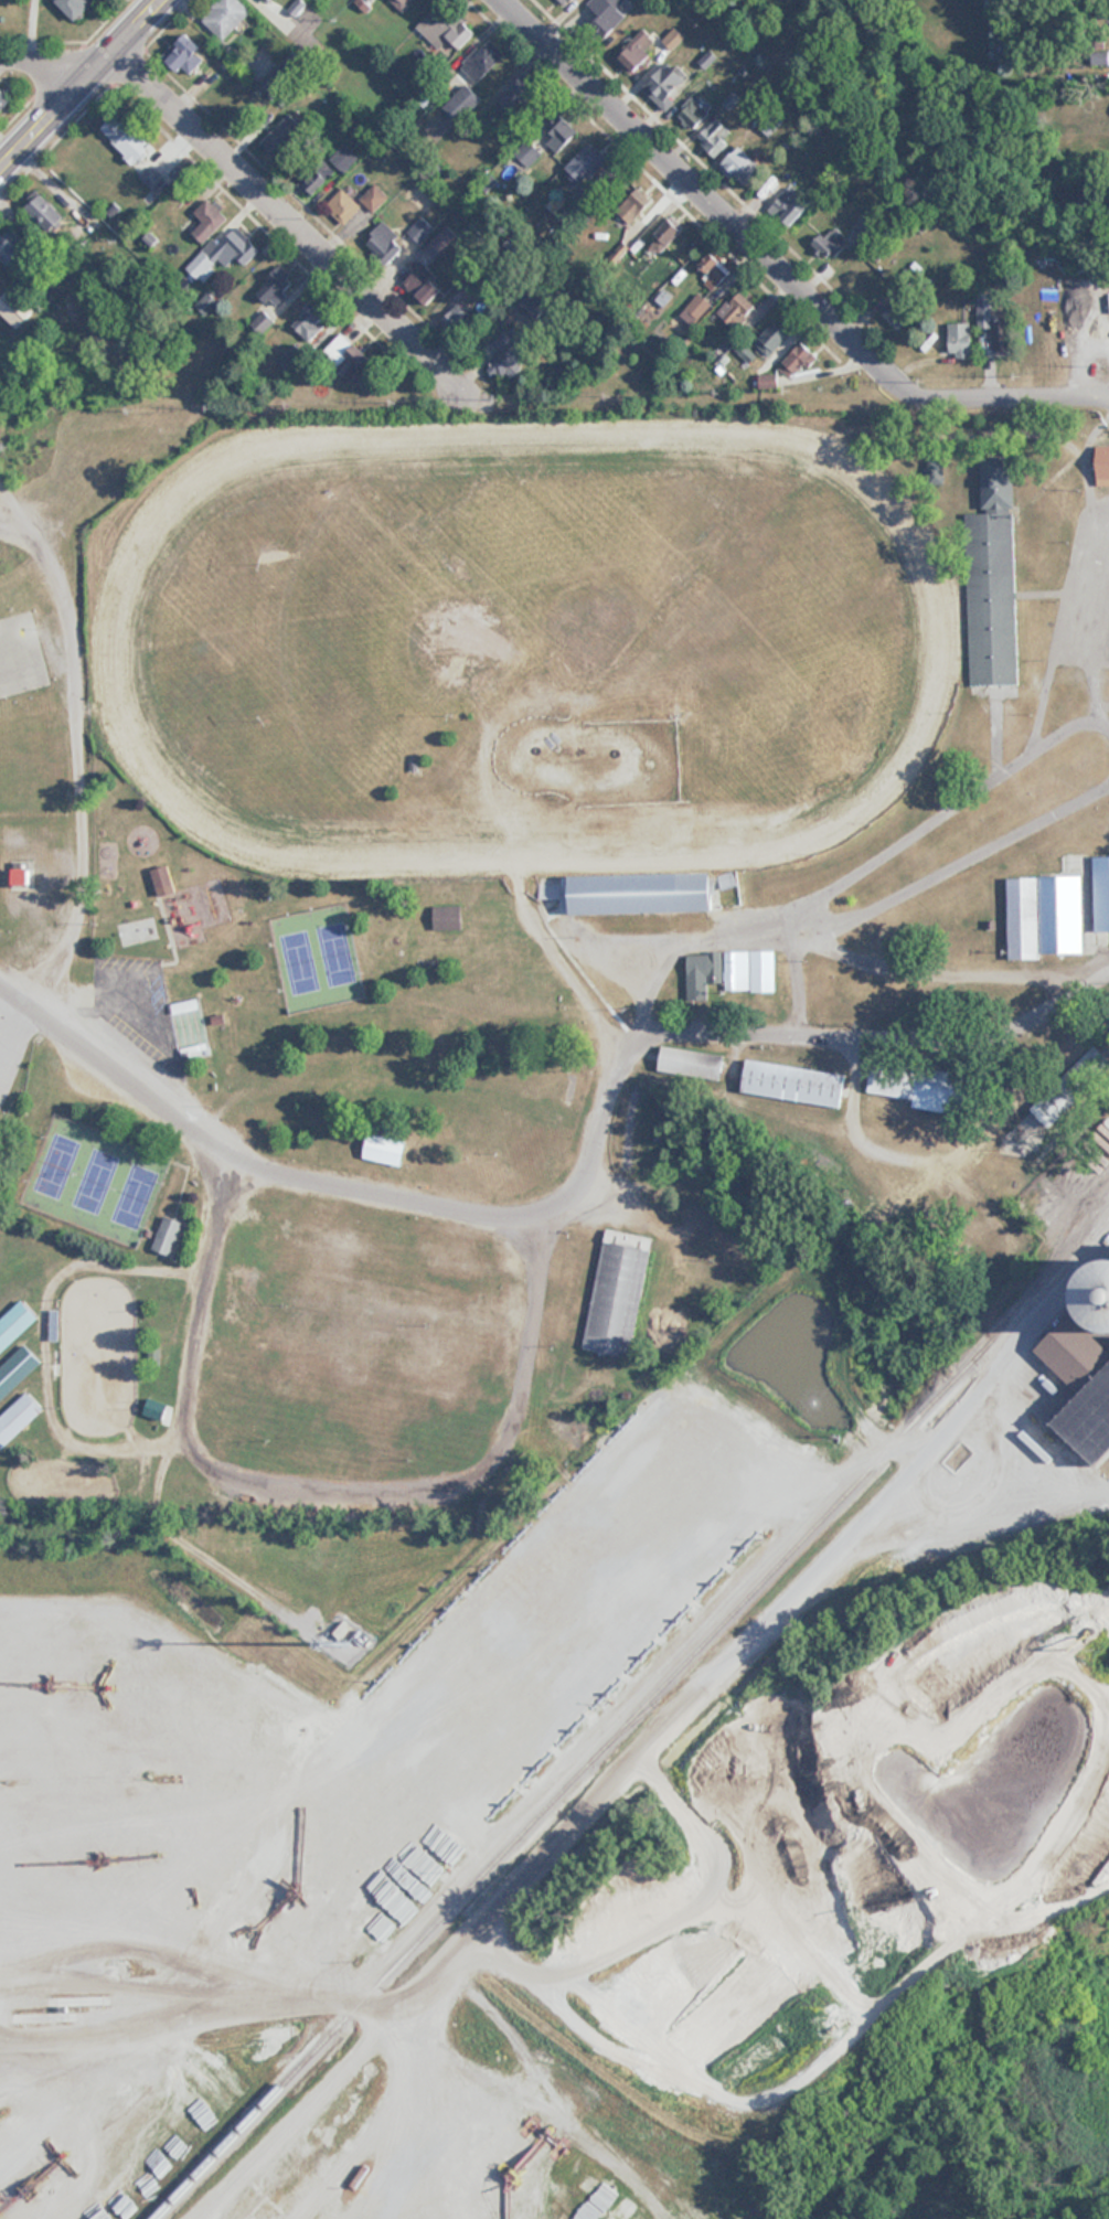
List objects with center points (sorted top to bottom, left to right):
building: (268, 0)
building: (567, 2)
building: (401, 3)
building: (75, 7)
building: (226, 17)
building: (608, 17)
building: (445, 31)
road: (135, 33)
building: (673, 39)
building: (635, 53)
building: (186, 55)
building: (482, 61)
road: (51, 64)
building: (281, 75)
building: (667, 84)
building: (515, 96)
building: (2, 98)
building: (461, 106)
building: (692, 113)
road: (51, 120)
building: (284, 136)
building: (562, 137)
building: (715, 137)
building: (126, 139)
building: (527, 152)
building: (586, 164)
building: (742, 166)
building: (151, 177)
building: (317, 178)
building: (374, 198)
building: (641, 200)
building: (790, 204)
building: (343, 206)
building: (45, 213)
building: (209, 220)
road: (292, 227)
building: (420, 230)
building: (662, 236)
building: (831, 241)
building: (439, 242)
building: (384, 243)
building: (8, 244)
building: (223, 252)
road: (774, 265)
building: (714, 269)
building: (276, 285)
building: (425, 285)
building: (699, 305)
building: (15, 308)
building: (737, 309)
building: (899, 312)
building: (457, 319)
building: (310, 321)
building: (993, 323)
building: (772, 338)
building: (961, 340)
building: (505, 353)
building: (345, 358)
building: (797, 360)
building: (290, 362)
building: (769, 381)
raceway: (296, 439)
park: (578, 547)
building: (992, 582)
park: (374, 639)
park: (21, 642)
building: (1101, 755)
building: (23, 875)
building: (164, 881)
building: (643, 892)
building: (1100, 892)
building: (552, 906)
building: (1044, 915)
building: (448, 916)
park: (318, 942)
road: (558, 959)
building: (764, 960)
building: (737, 971)
building: (702, 975)
building: (184, 1005)
park: (191, 1016)
building: (1092, 1060)
building: (691, 1062)
building: (795, 1082)
building: (923, 1085)
building: (1054, 1105)
park: (426, 1113)
building: (386, 1149)
park: (98, 1166)
road: (575, 1184)
road: (221, 1212)
building: (984, 1221)
building: (168, 1236)
road: (92, 1260)
building: (1098, 1290)
building: (618, 1292)
building: (14, 1323)
park: (97, 1354)
building: (17, 1369)
building: (1083, 1388)
building: (18, 1419)
railway: (852, 1603)
railway: (631, 1718)
road: (663, 1728)
building: (542, 2184)
building: (562, 2195)
building: (585, 2201)

